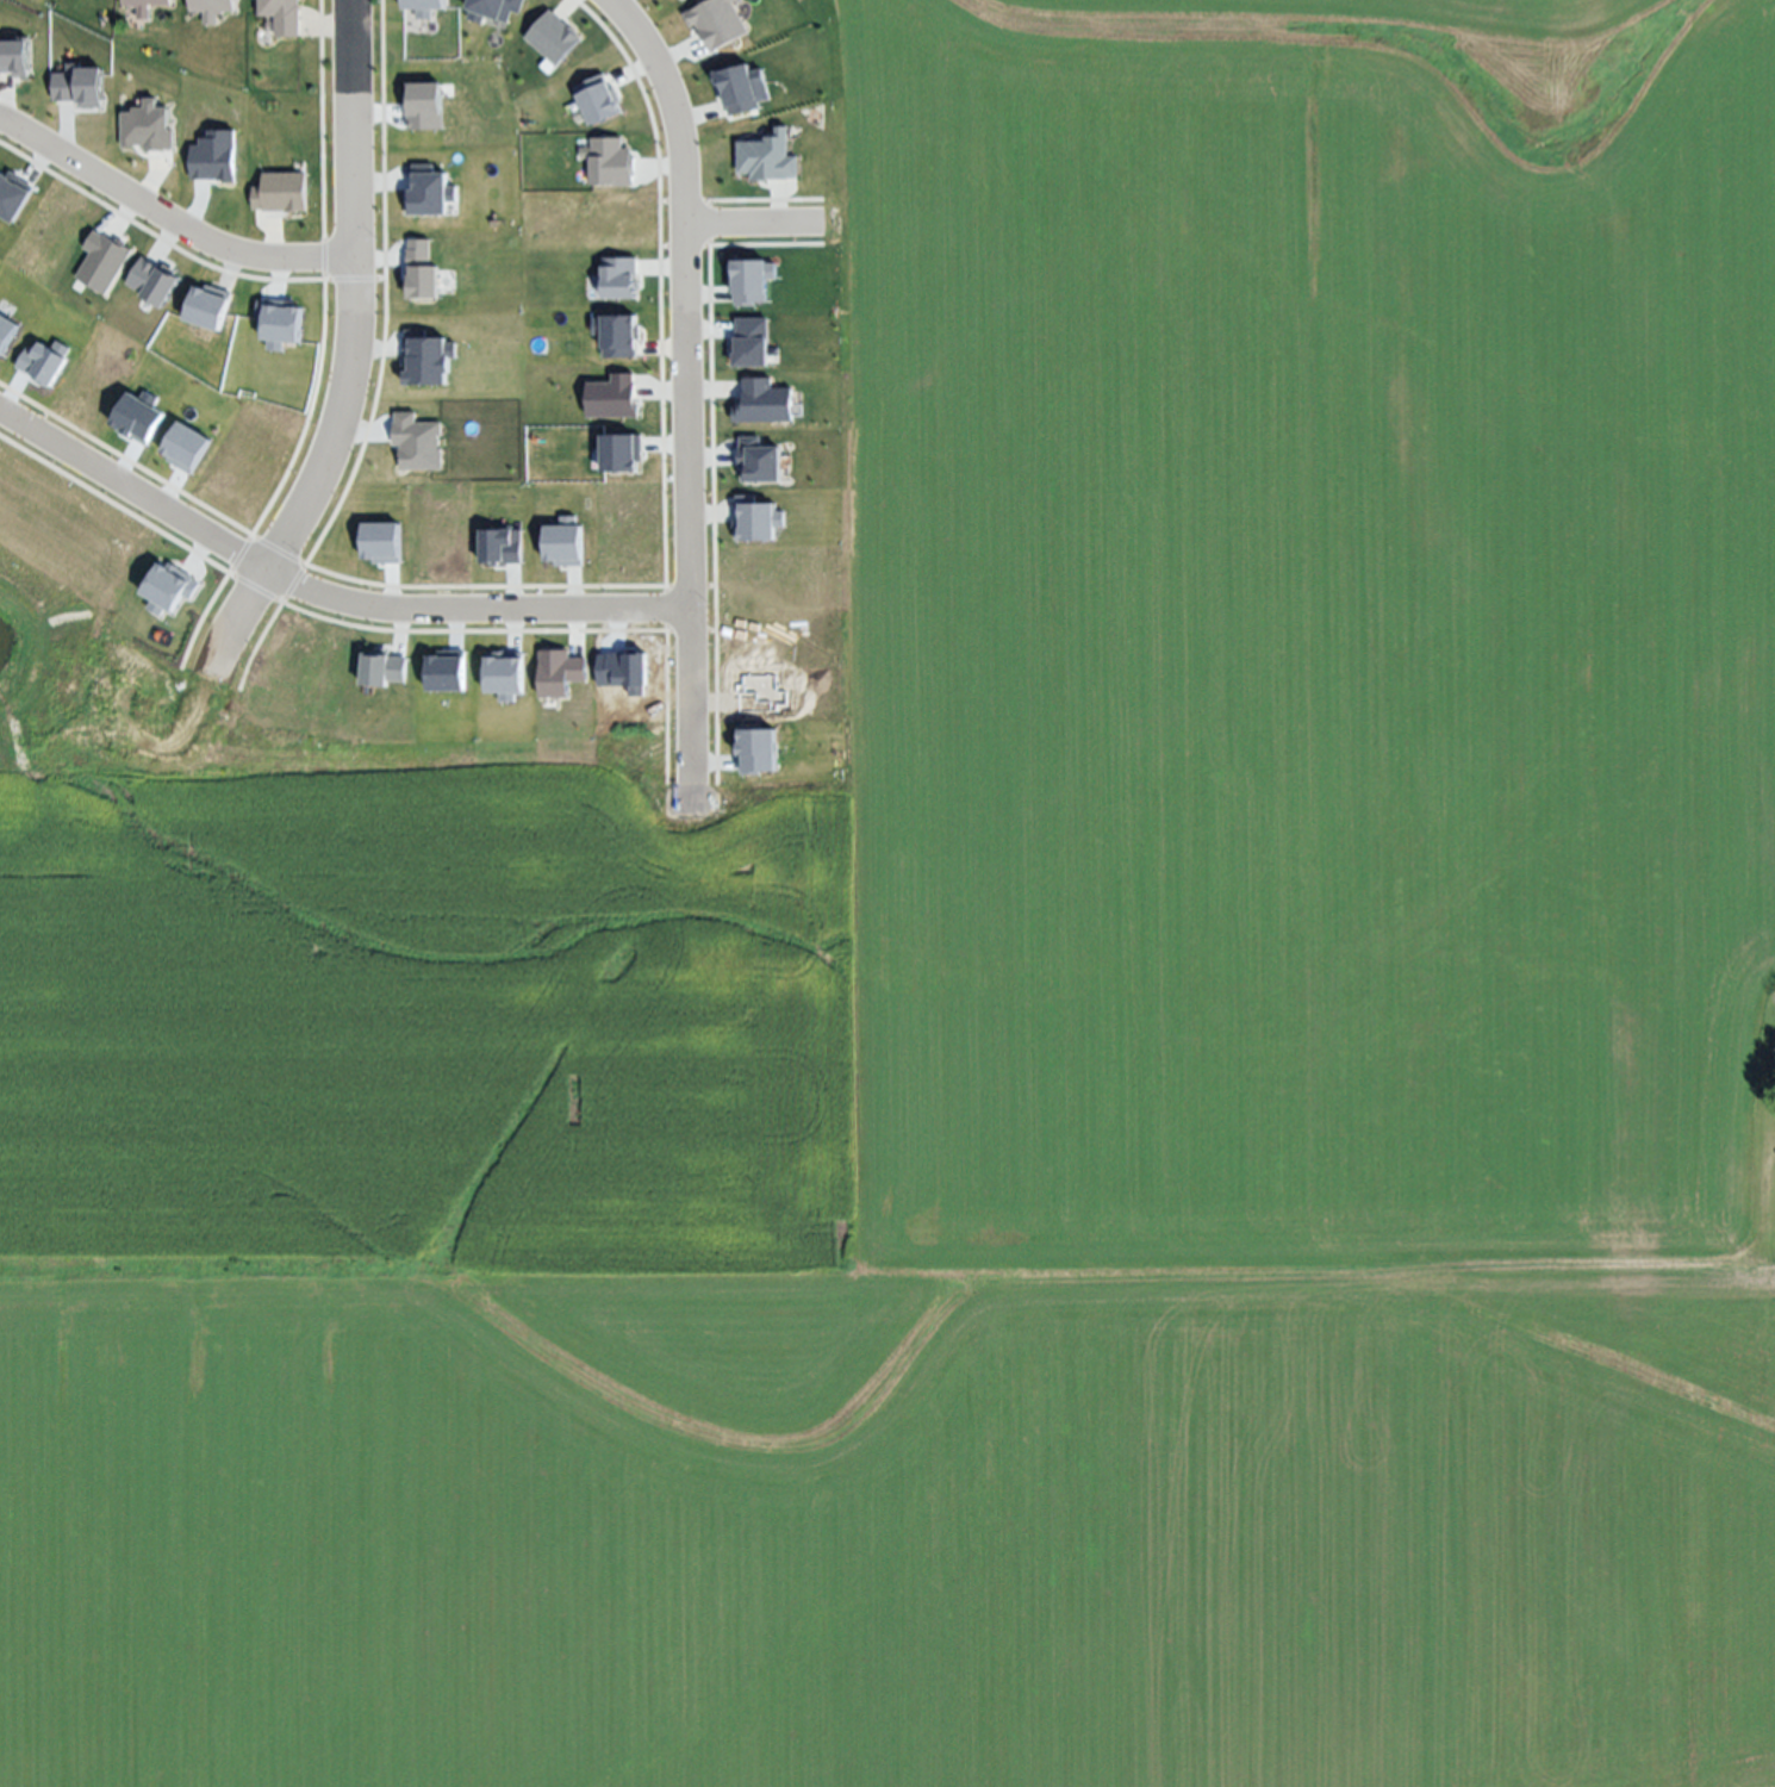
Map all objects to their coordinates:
building: (278, 17)
park: (818, 79)
road: (168, 228)
road: (748, 235)
road: (353, 353)
road: (685, 398)
road: (320, 605)
crop: (1123, 1022)

